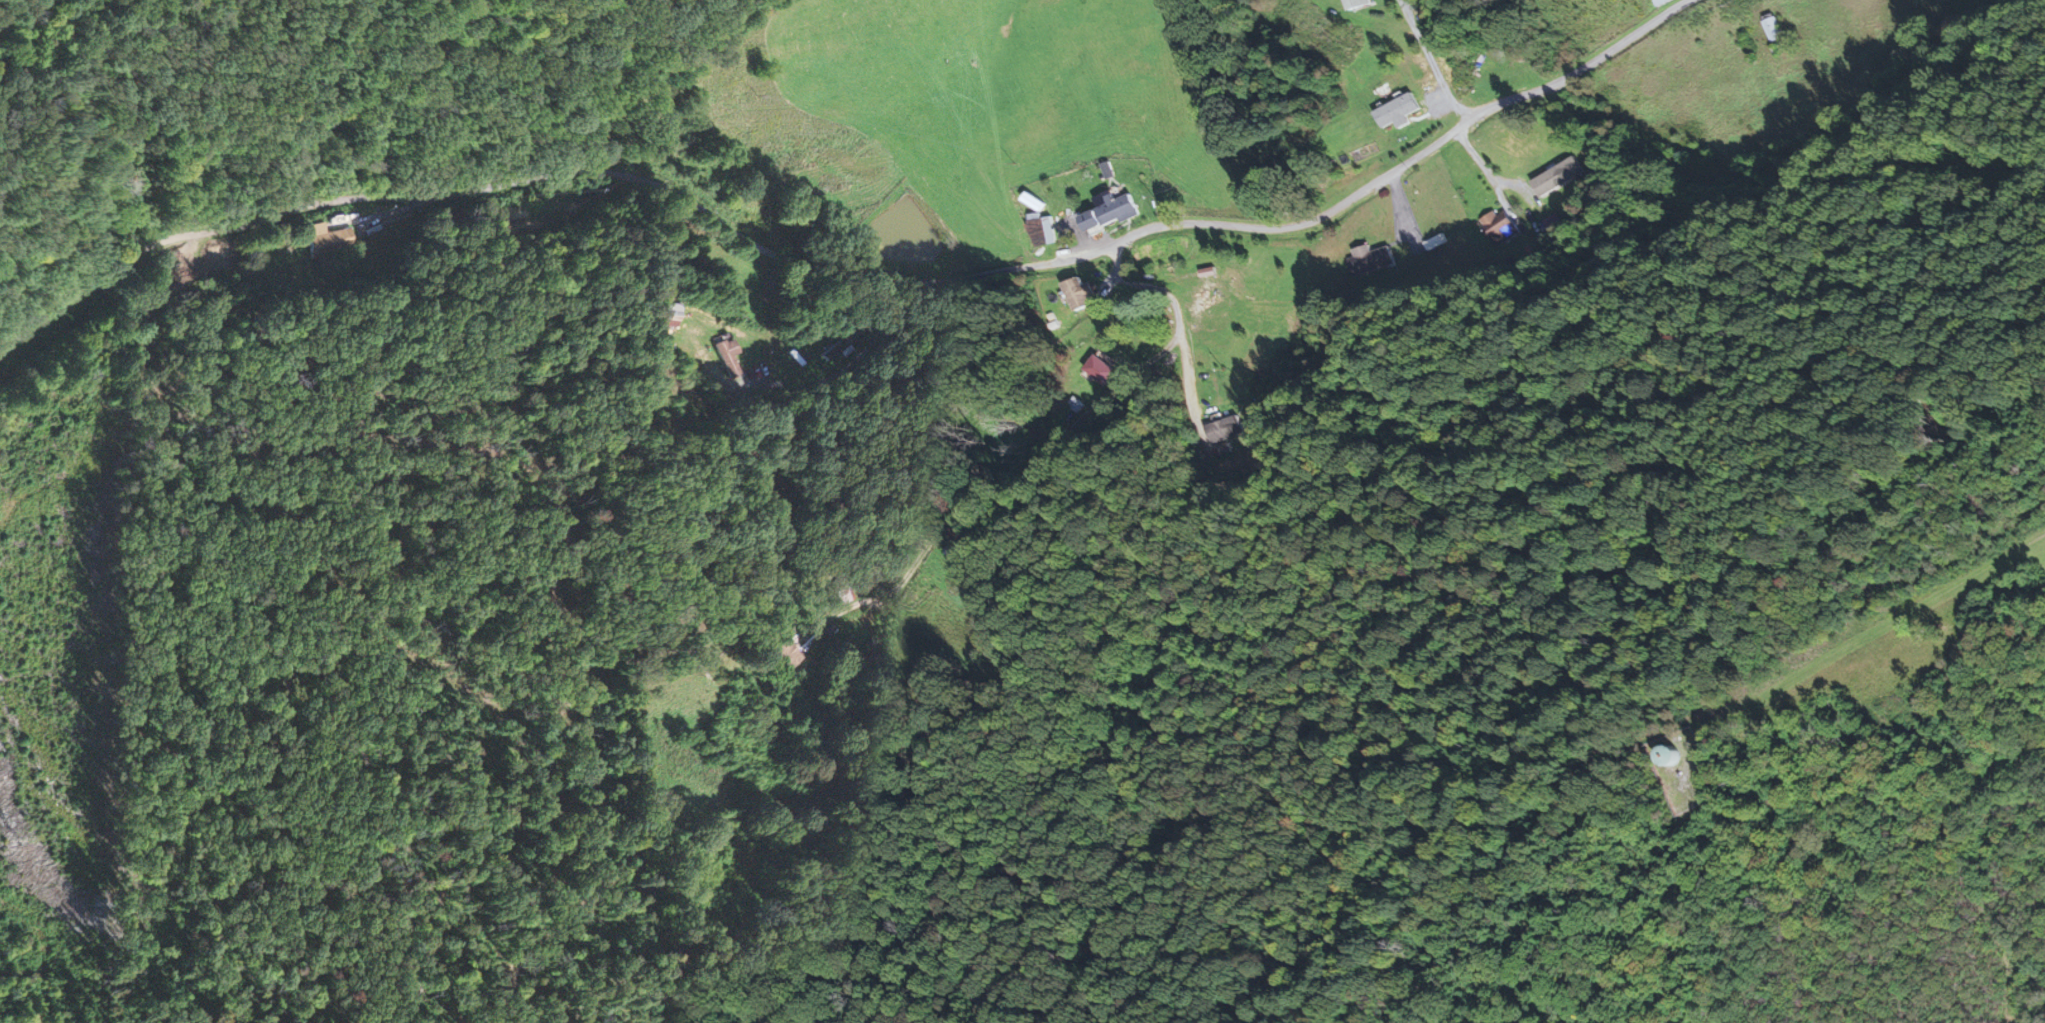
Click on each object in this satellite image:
building: (1356, 4)
building: (1773, 29)
building: (1397, 110)
building: (1557, 177)
building: (1110, 212)
building: (1500, 227)
building: (326, 239)
building: (1432, 243)
building: (1371, 259)
building: (1218, 282)
building: (1079, 293)
building: (670, 312)
road: (900, 320)
building: (725, 357)
building: (1101, 370)
building: (1224, 429)
building: (958, 550)
building: (838, 596)
road: (807, 724)
building: (1666, 754)

